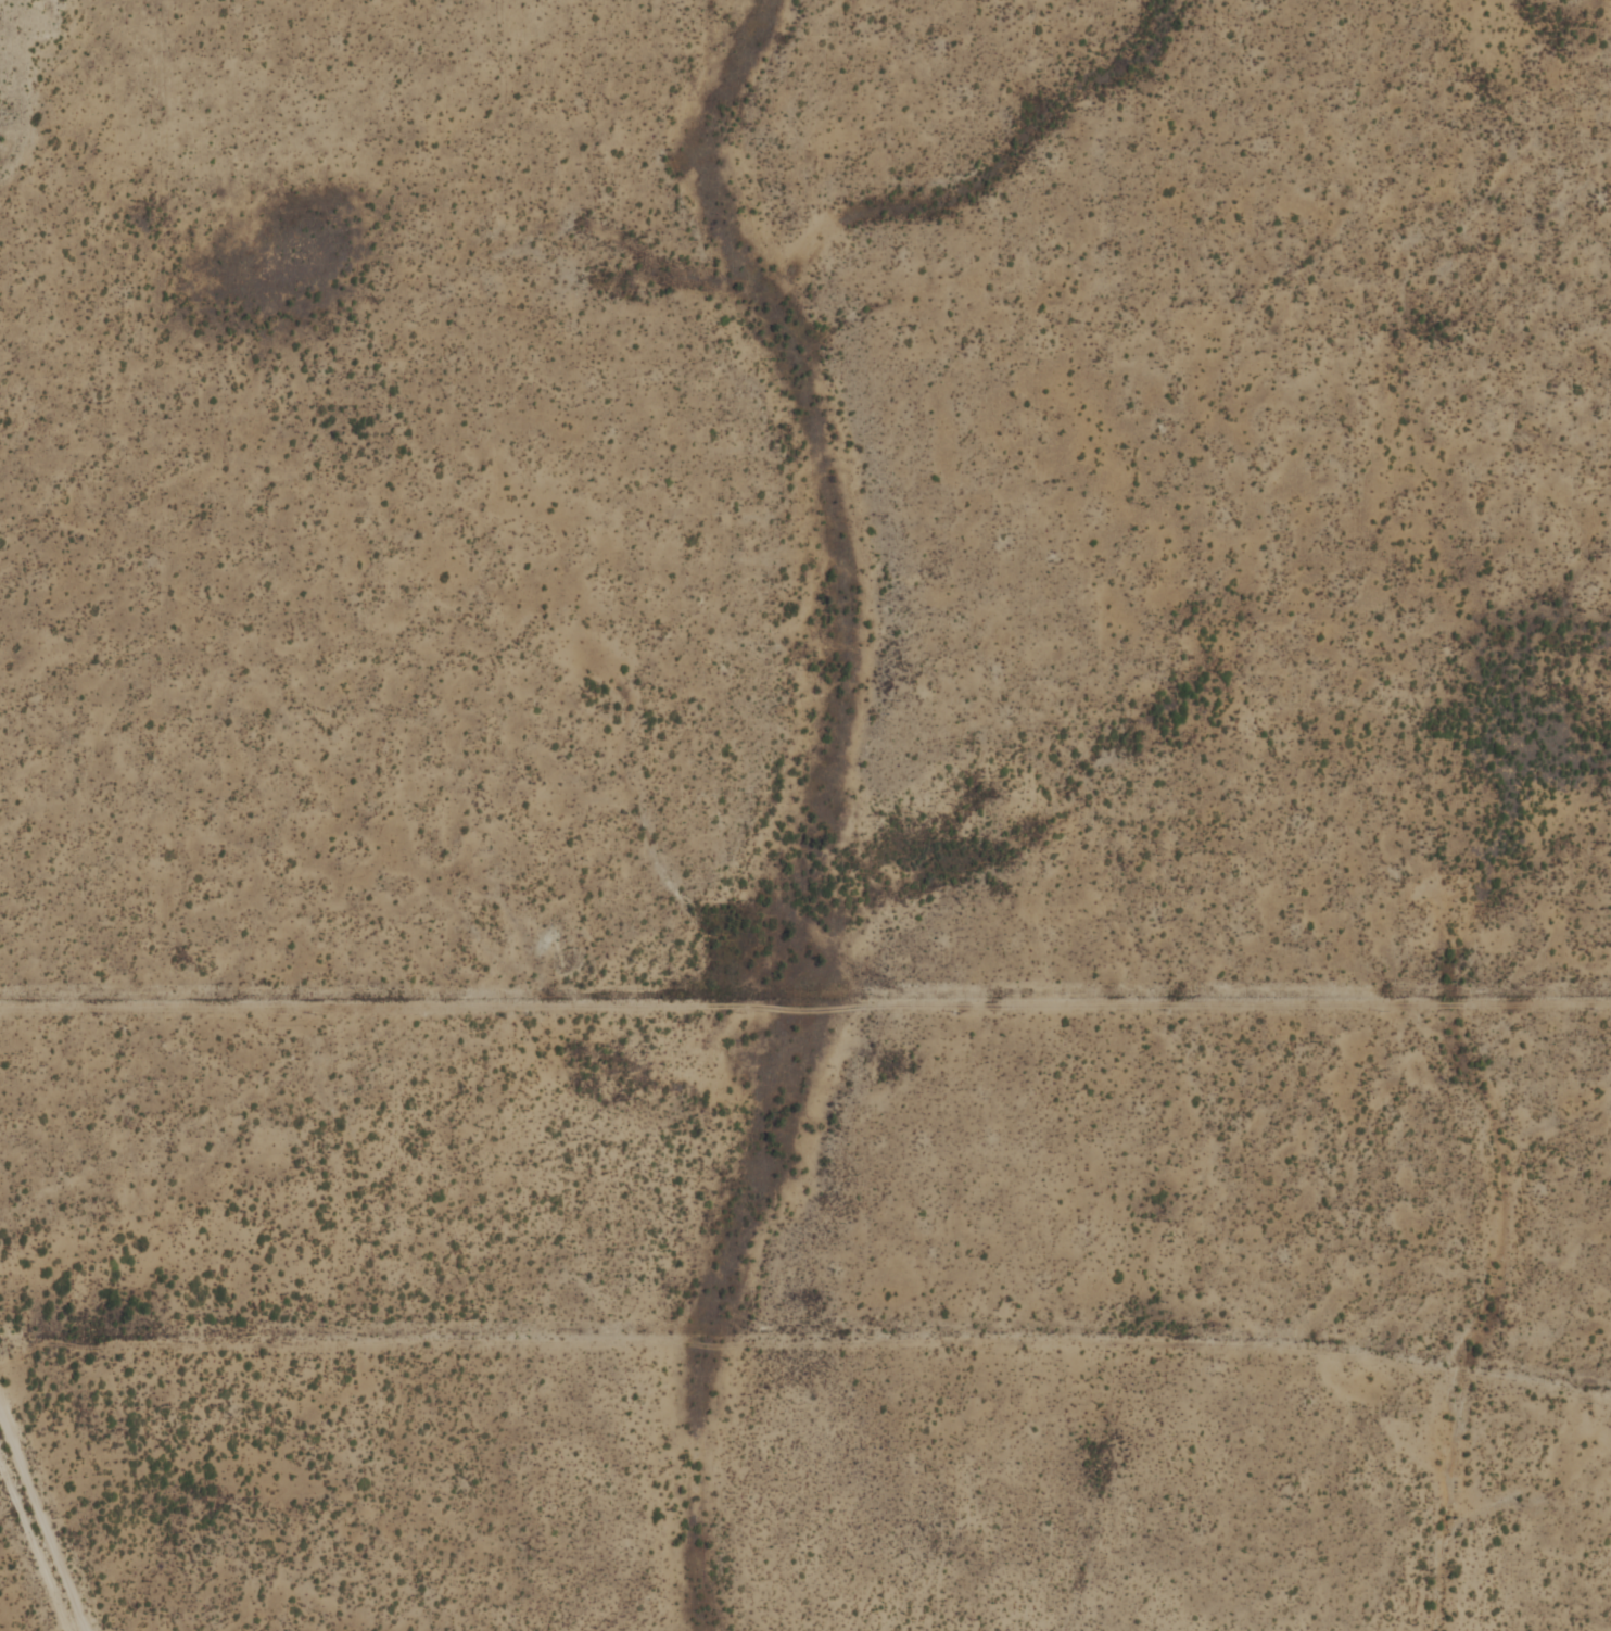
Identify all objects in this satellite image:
road: (45, 1521)

